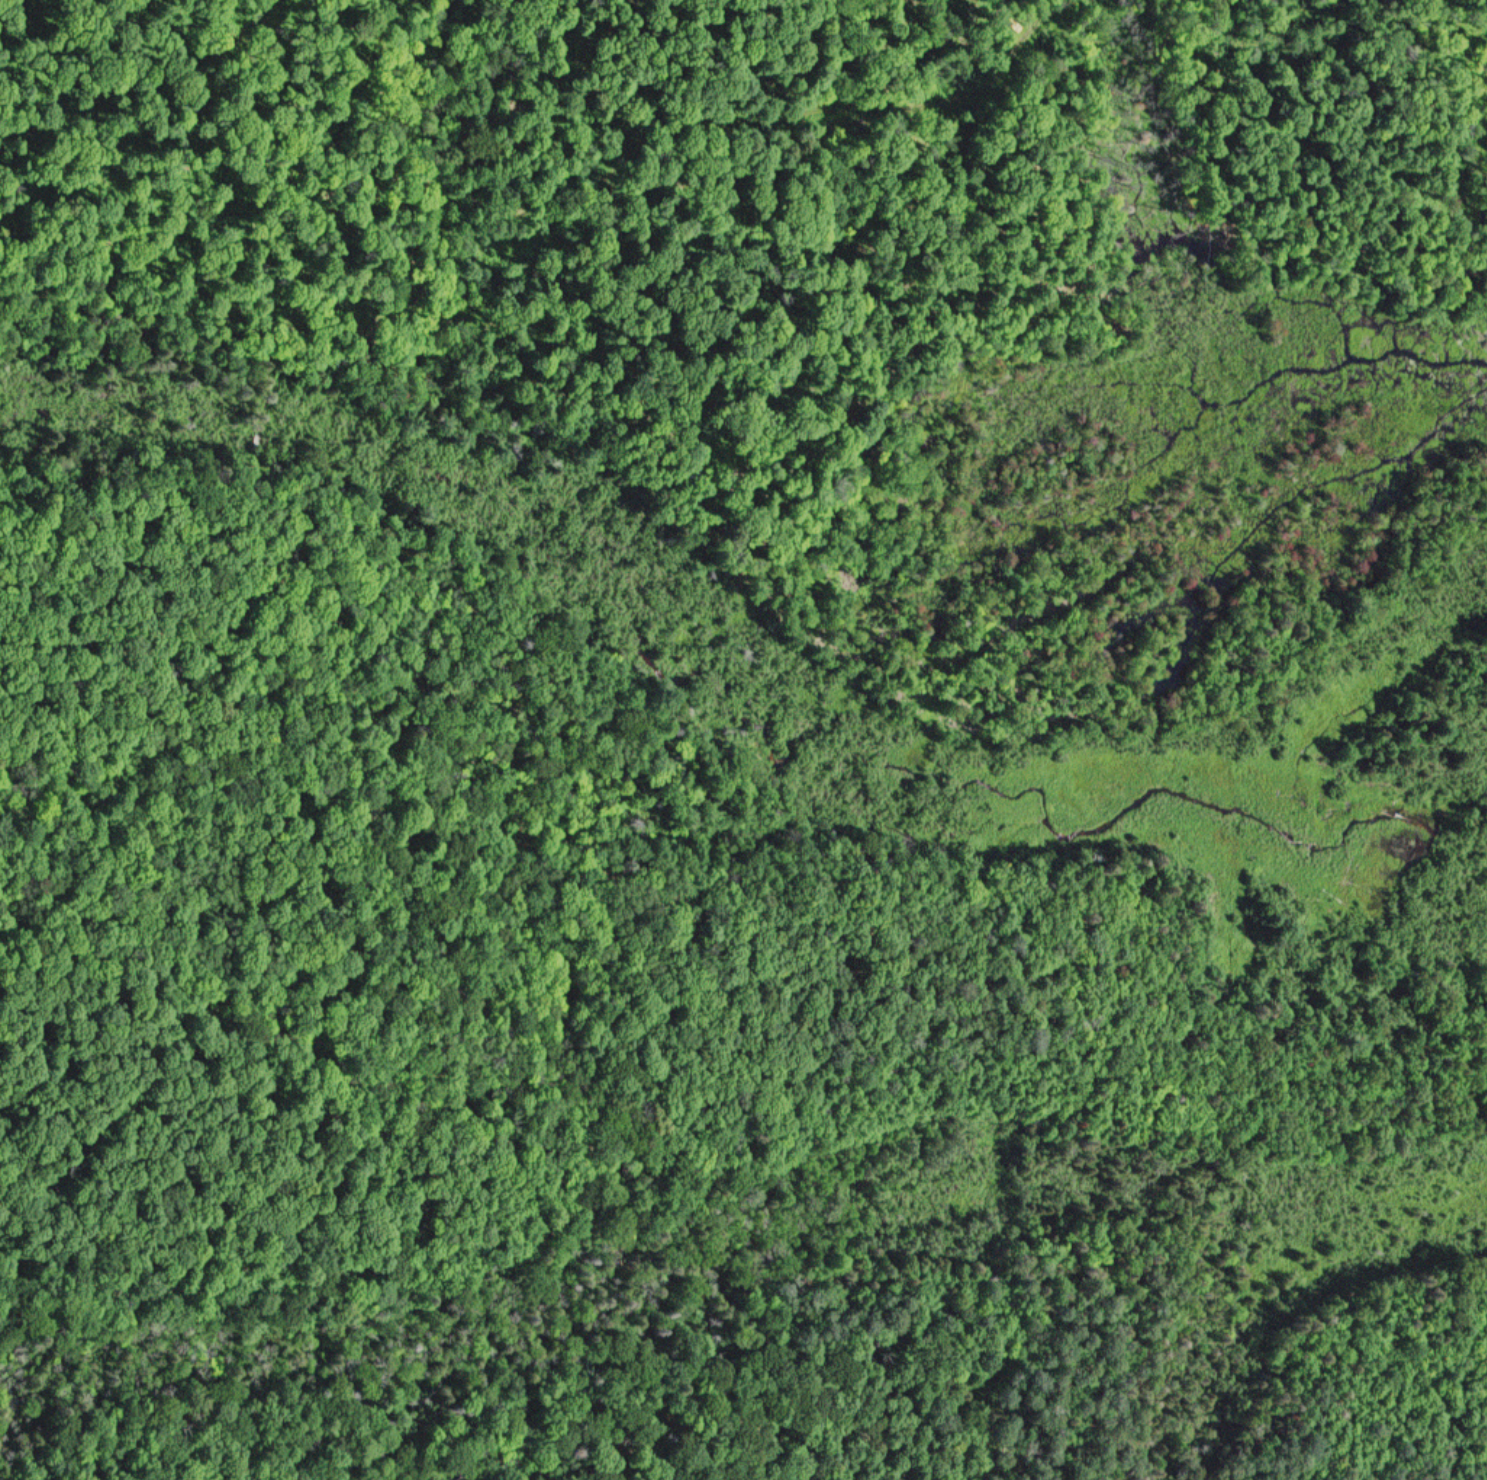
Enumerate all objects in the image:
road: (589, 109)

